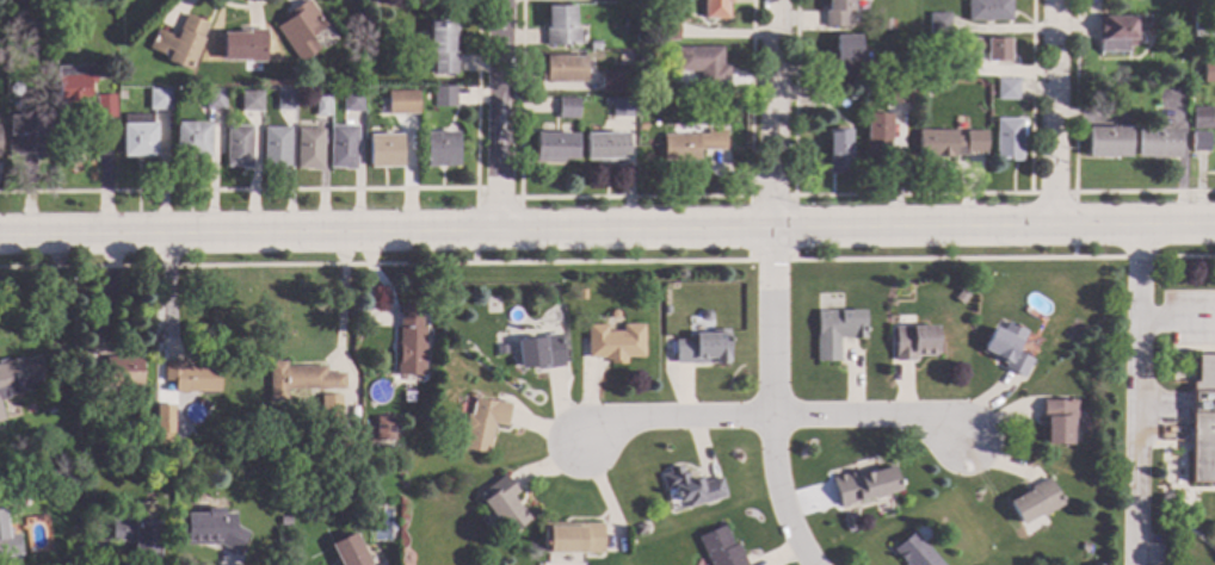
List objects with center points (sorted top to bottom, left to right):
building: (715, 8)
building: (988, 11)
building: (835, 13)
building: (36, 23)
building: (938, 24)
building: (883, 26)
building: (1203, 26)
building: (560, 27)
building: (301, 31)
building: (668, 31)
building: (1120, 32)
building: (179, 42)
building: (243, 46)
building: (442, 46)
building: (593, 46)
building: (991, 49)
building: (844, 57)
building: (964, 66)
building: (704, 67)
building: (565, 69)
building: (1209, 73)
building: (610, 83)
building: (74, 85)
building: (1183, 85)
building: (628, 88)
building: (14, 89)
building: (863, 89)
building: (1007, 91)
building: (323, 92)
building: (898, 94)
building: (443, 97)
building: (159, 99)
building: (214, 99)
building: (285, 100)
building: (251, 101)
building: (351, 101)
building: (606, 101)
building: (401, 103)
building: (104, 104)
building: (382, 104)
building: (321, 106)
building: (621, 107)
building: (567, 108)
road: (1053, 111)
road: (498, 114)
building: (1201, 118)
building: (641, 126)
building: (876, 136)
building: (30, 137)
building: (137, 139)
building: (191, 139)
building: (1007, 139)
building: (1106, 143)
building: (1199, 143)
building: (949, 144)
building: (1157, 144)
building: (691, 145)
building: (239, 147)
building: (555, 147)
building: (605, 147)
building: (276, 148)
building: (343, 148)
building: (309, 149)
building: (439, 149)
building: (383, 151)
building: (838, 151)
road: (1073, 167)
road: (101, 185)
road: (908, 194)
road: (791, 195)
road: (633, 197)
road: (1073, 204)
road: (606, 228)
road: (1003, 259)
road: (372, 263)
road: (771, 286)
building: (581, 294)
road: (340, 296)
building: (666, 311)
building: (613, 315)
building: (705, 316)
road: (1176, 317)
building: (1078, 327)
building: (837, 333)
building: (409, 342)
building: (615, 343)
building: (914, 343)
building: (703, 349)
building: (1007, 349)
building: (501, 350)
road: (1192, 350)
building: (539, 353)
building: (112, 374)
building: (19, 375)
building: (192, 377)
building: (300, 380)
road: (1136, 393)
building: (329, 409)
road: (775, 414)
building: (159, 415)
building: (1, 416)
building: (1057, 421)
building: (483, 423)
building: (1203, 423)
building: (384, 431)
road: (1182, 459)
road: (1166, 460)
building: (68, 461)
building: (863, 486)
building: (691, 488)
building: (1035, 502)
building: (90, 504)
building: (504, 505)
building: (284, 521)
road: (1186, 526)
building: (76, 528)
building: (641, 528)
building: (212, 530)
building: (137, 536)
building: (573, 539)
building: (8, 541)
building: (1084, 547)
building: (720, 548)
building: (347, 552)
building: (913, 552)

